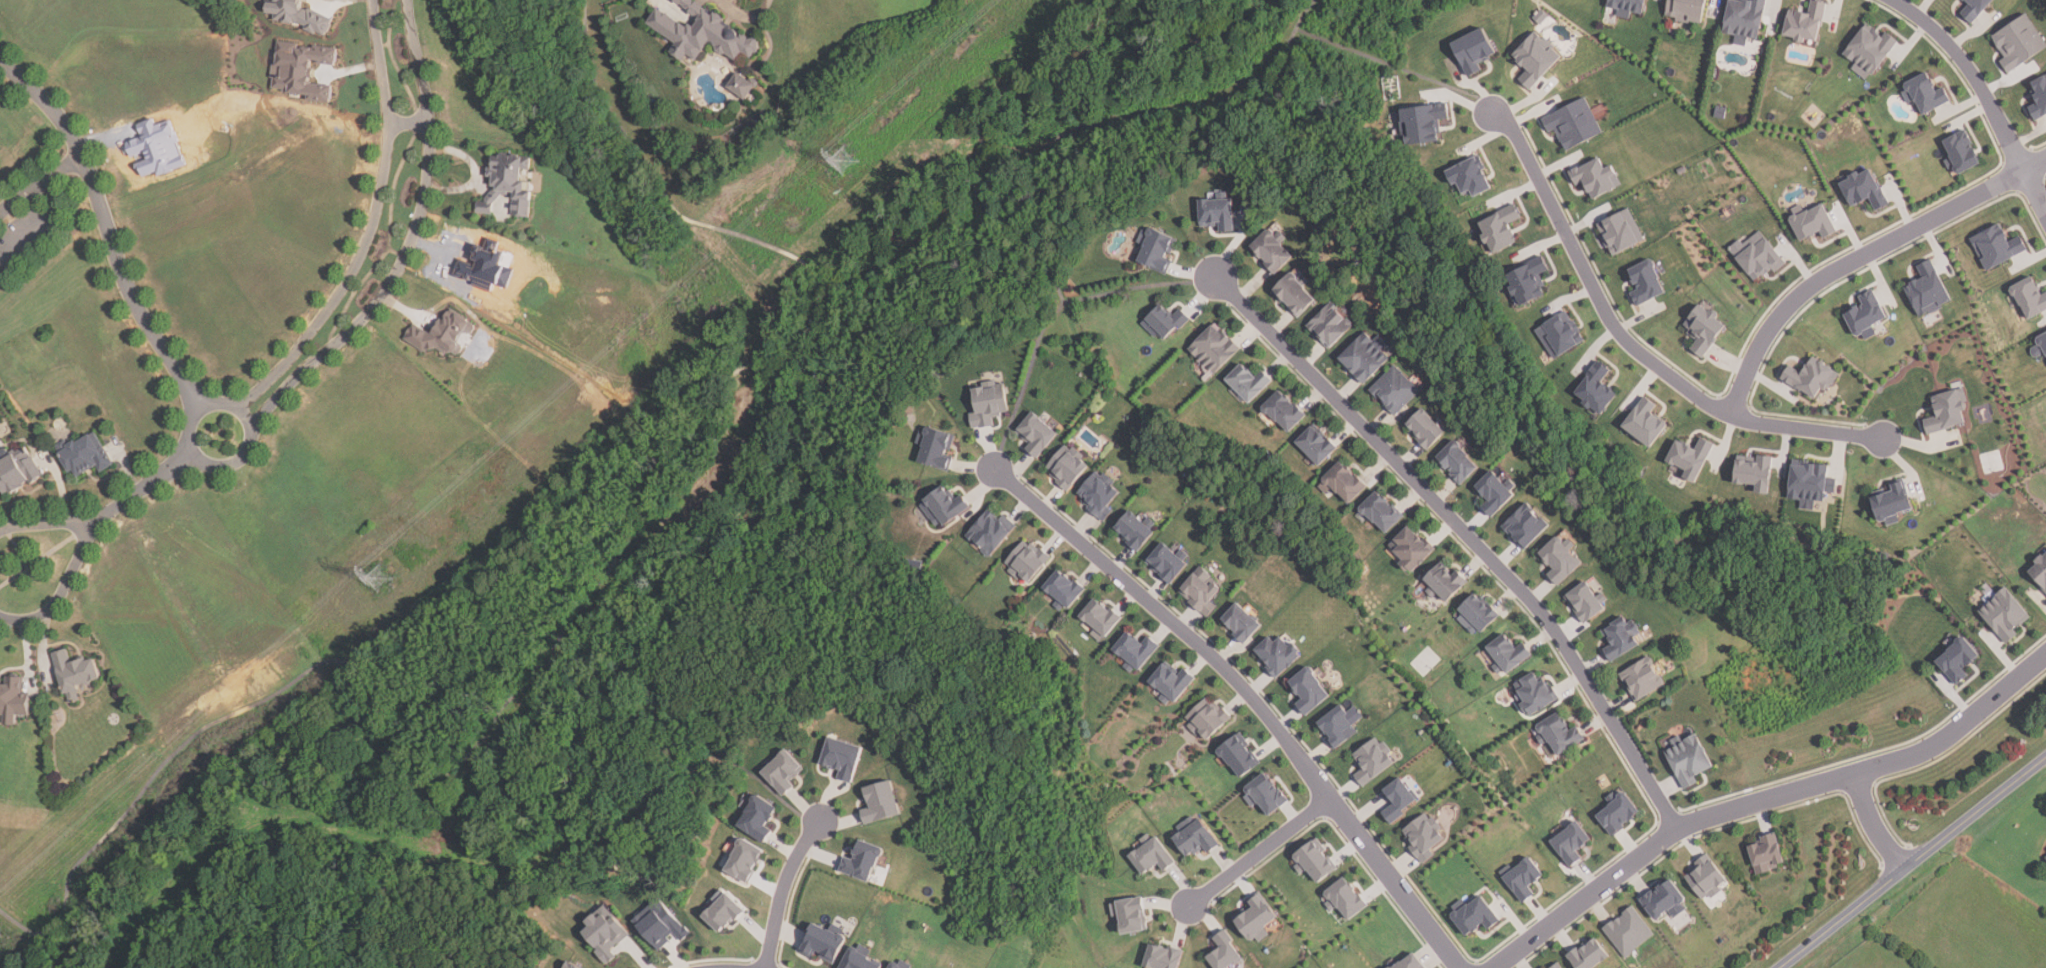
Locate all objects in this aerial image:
road: (338, 2)
building: (1628, 7)
building: (1976, 9)
building: (1687, 10)
building: (296, 14)
road: (746, 17)
building: (1743, 18)
building: (1806, 23)
building: (698, 31)
building: (2020, 43)
building: (1869, 51)
building: (1474, 52)
road: (1379, 60)
building: (1535, 60)
building: (303, 70)
road: (349, 72)
building: (740, 86)
road: (1983, 91)
building: (1926, 94)
building: (2039, 100)
building: (1720, 112)
road: (409, 124)
building: (1423, 124)
building: (1573, 124)
road: (105, 138)
building: (312, 141)
building: (158, 149)
building: (1962, 153)
road: (1040, 157)
power tower: (843, 162)
building: (1681, 170)
road: (476, 175)
building: (1471, 177)
building: (1596, 178)
road: (39, 181)
building: (508, 185)
building: (1864, 190)
road: (674, 209)
building: (1218, 210)
road: (41, 223)
building: (1814, 224)
road: (368, 226)
road: (106, 229)
building: (1501, 229)
building: (1620, 232)
road: (409, 243)
building: (1155, 246)
building: (1999, 247)
building: (1271, 252)
building: (1758, 255)
road: (1859, 260)
road: (434, 264)
building: (482, 266)
building: (1529, 282)
building: (1646, 283)
building: (1928, 290)
building: (1294, 295)
building: (2031, 298)
road: (406, 310)
building: (1867, 315)
building: (1165, 320)
building: (1329, 325)
building: (1705, 329)
building: (442, 335)
building: (1560, 335)
road: (765, 337)
road: (1633, 347)
building: (2040, 348)
building: (1213, 349)
building: (1362, 359)
building: (1813, 377)
road: (1025, 382)
building: (1246, 384)
building: (1597, 390)
building: (1394, 391)
building: (987, 404)
building: (1282, 412)
building: (1947, 413)
road: (192, 418)
building: (1647, 424)
building: (1425, 427)
building: (1036, 432)
building: (935, 446)
building: (1315, 446)
building: (84, 455)
building: (1693, 459)
building: (1456, 463)
building: (1067, 465)
road: (127, 466)
building: (16, 470)
building: (1755, 473)
building: (1343, 482)
building: (1810, 483)
road: (60, 486)
road: (144, 487)
building: (1496, 491)
building: (1099, 494)
building: (1893, 503)
building: (943, 505)
building: (1380, 513)
road: (46, 524)
building: (1527, 524)
building: (1135, 528)
building: (991, 531)
road: (1469, 534)
building: (1410, 549)
building: (1561, 558)
building: (1026, 560)
building: (1169, 561)
building: (2040, 570)
power tower: (383, 578)
building: (1445, 582)
building: (1064, 589)
building: (1201, 590)
road: (62, 591)
building: (1587, 601)
building: (1478, 612)
building: (2005, 613)
building: (1102, 618)
building: (1240, 623)
building: (1621, 638)
road: (42, 648)
building: (1136, 650)
building: (1509, 654)
building: (1277, 655)
road: (28, 656)
building: (1959, 659)
building: (73, 673)
building: (1641, 680)
building: (1172, 682)
building: (1310, 688)
road: (1250, 694)
building: (1535, 694)
building: (13, 699)
building: (1209, 717)
building: (1342, 724)
building: (1560, 735)
building: (1240, 754)
road: (410, 757)
building: (841, 757)
building: (1374, 760)
building: (1688, 762)
building: (783, 770)
building: (1267, 793)
building: (1400, 799)
road: (1765, 800)
building: (880, 801)
building: (1619, 811)
building: (758, 817)
road: (1874, 824)
building: (1196, 836)
building: (1424, 836)
building: (1572, 842)
road: (1261, 852)
building: (1767, 852)
building: (1152, 854)
building: (2044, 855)
building: (744, 859)
building: (862, 860)
building: (1316, 860)
road: (1913, 862)
building: (1523, 877)
building: (1706, 877)
road: (781, 889)
building: (1346, 898)
building: (1665, 899)
building: (723, 910)
building: (1132, 913)
building: (1476, 914)
building: (1256, 917)
building: (660, 924)
building: (1629, 931)
building: (605, 934)
building: (822, 943)
building: (1224, 951)
building: (1589, 954)
building: (1163, 956)
building: (858, 960)
building: (1410, 962)
building: (571, 965)
building: (894, 965)
building: (1557, 966)

